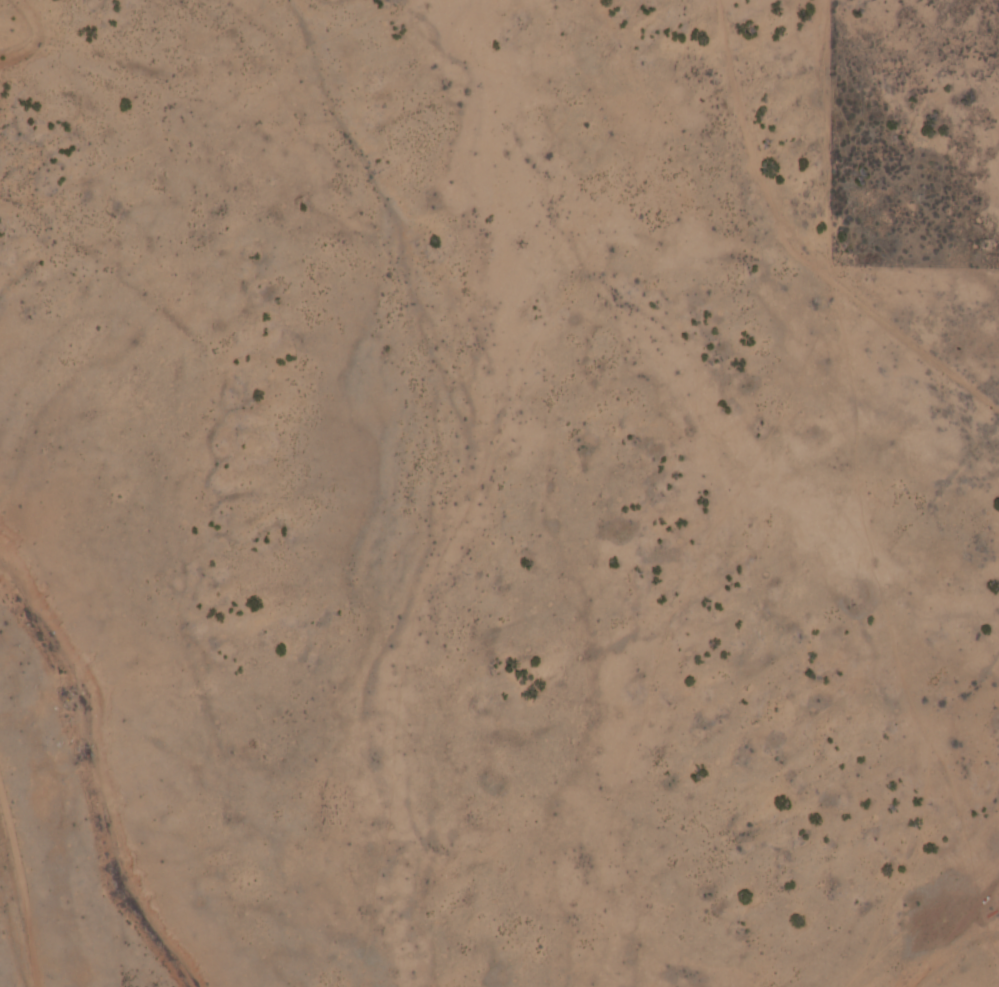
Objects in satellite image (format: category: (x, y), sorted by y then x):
road: (972, 954)

